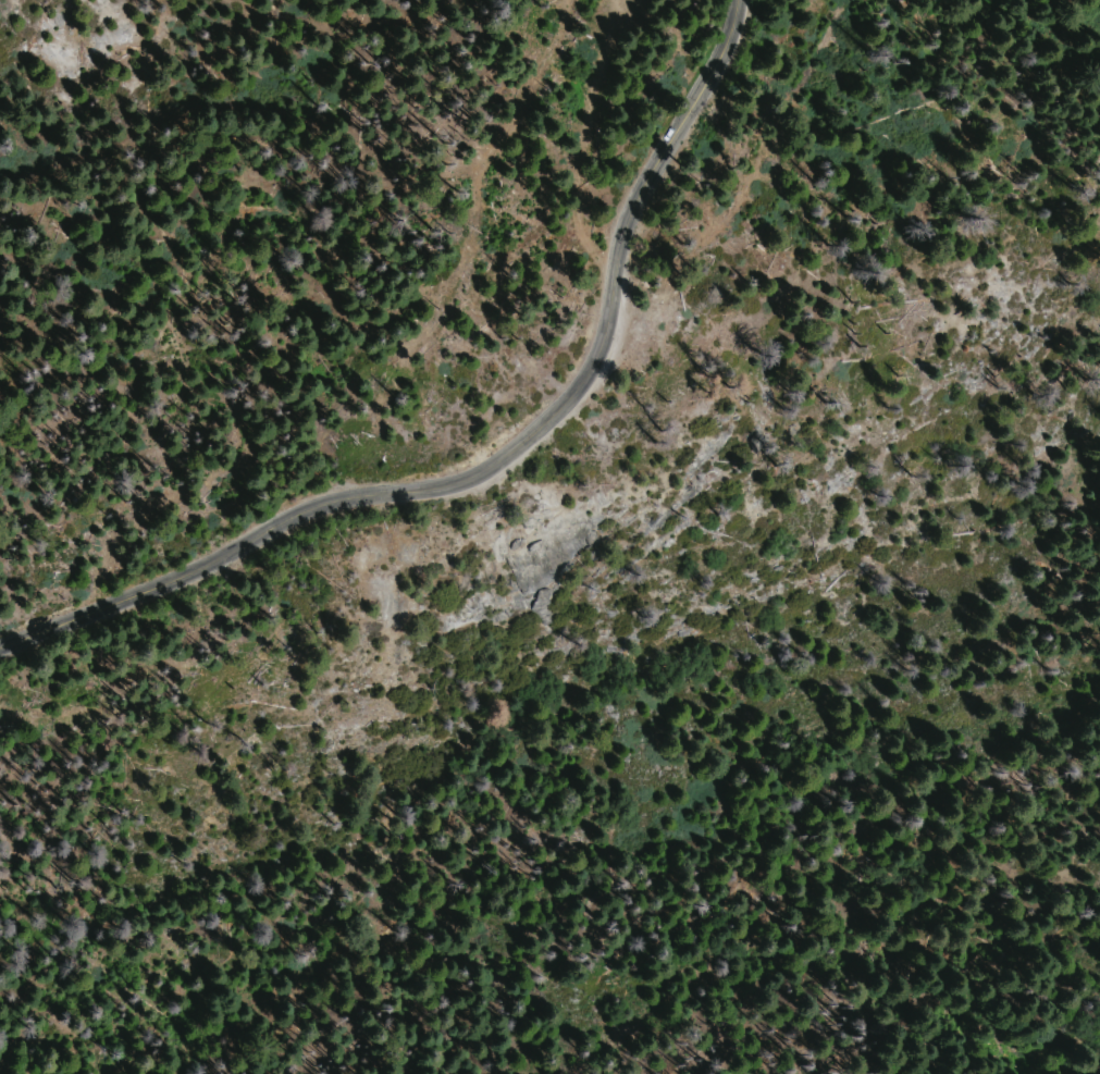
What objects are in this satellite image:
road: (505, 477)

